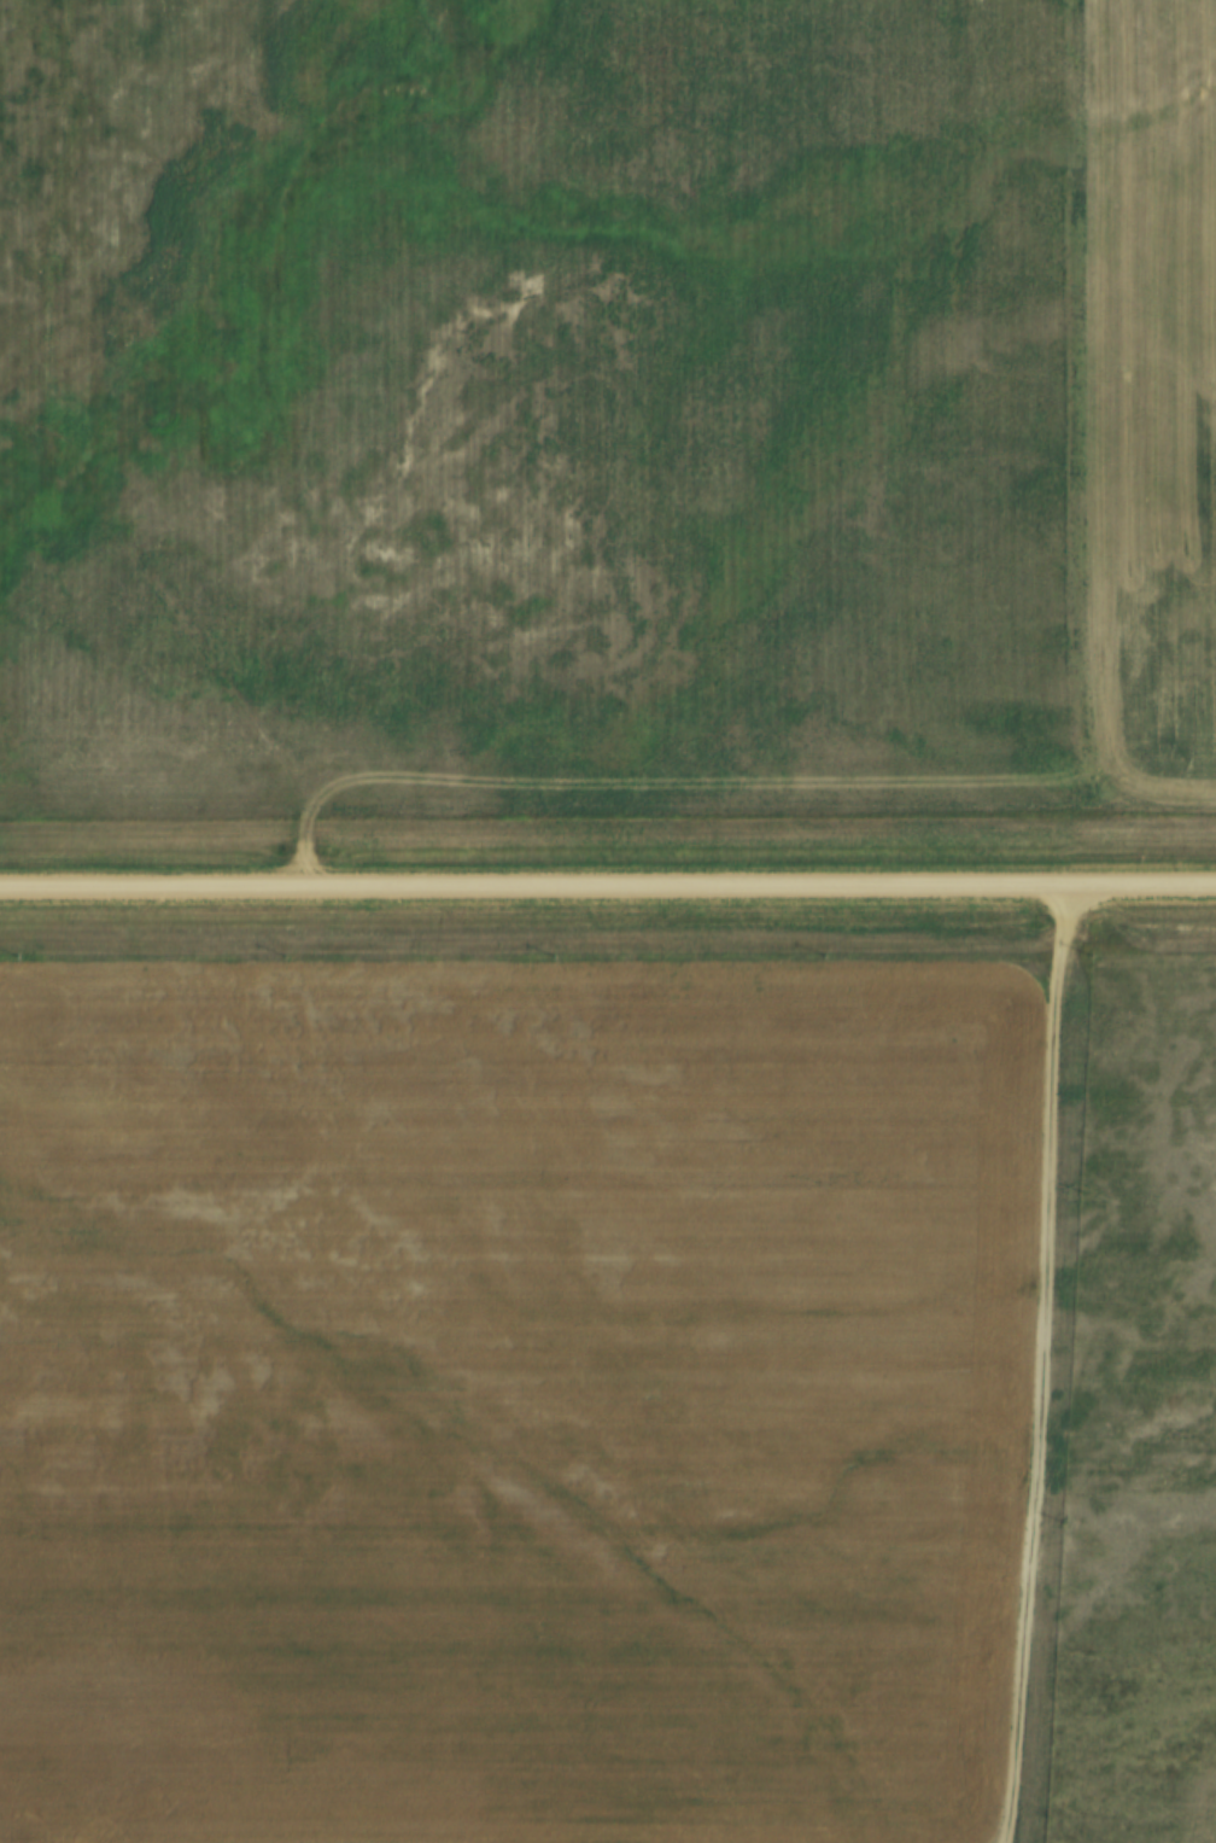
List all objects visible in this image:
road: (608, 891)
road: (1042, 1365)

